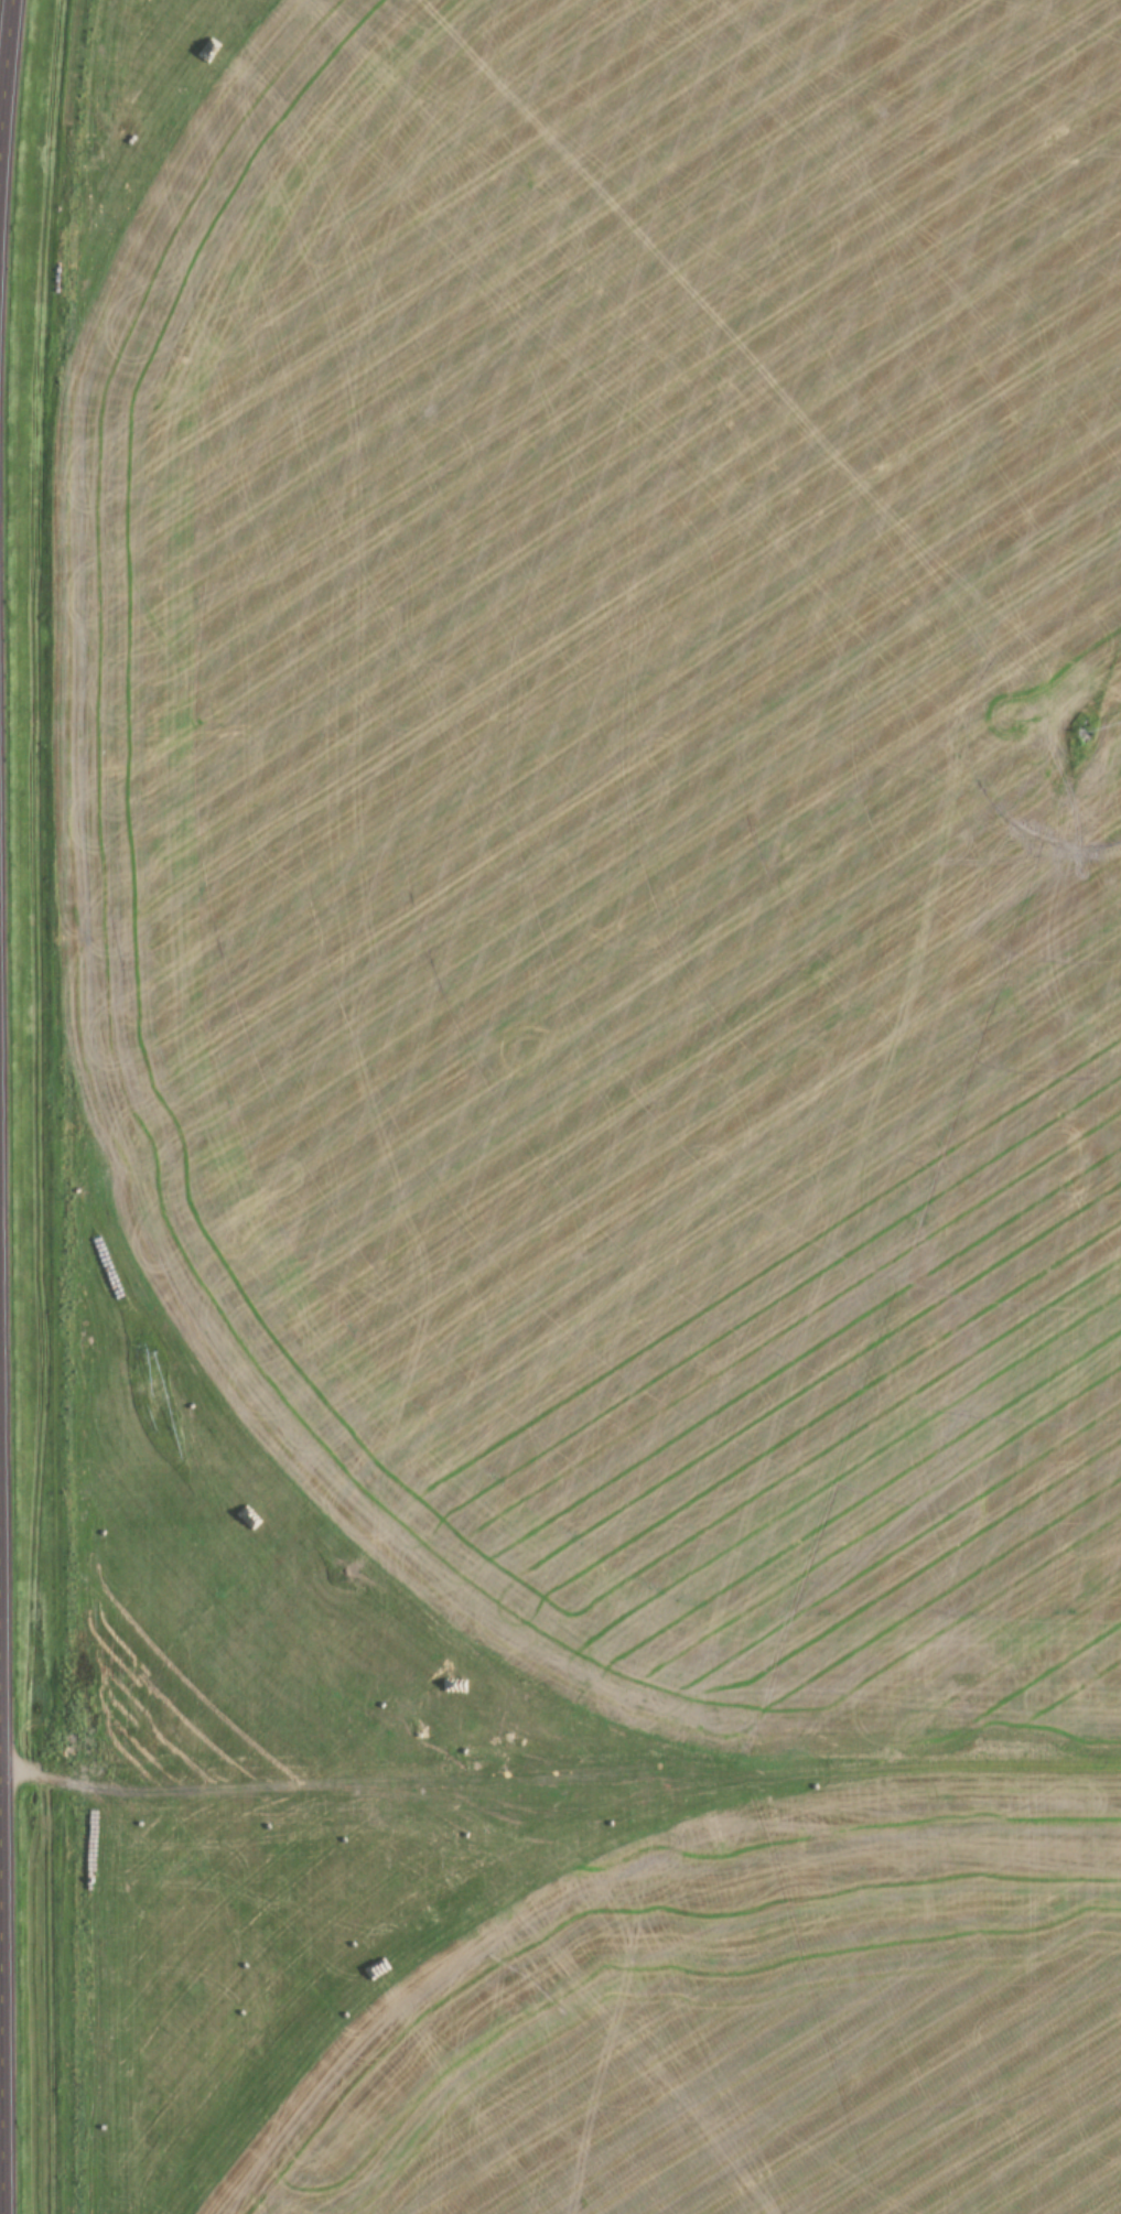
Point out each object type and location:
road: (7, 104)
road: (3, 1819)

